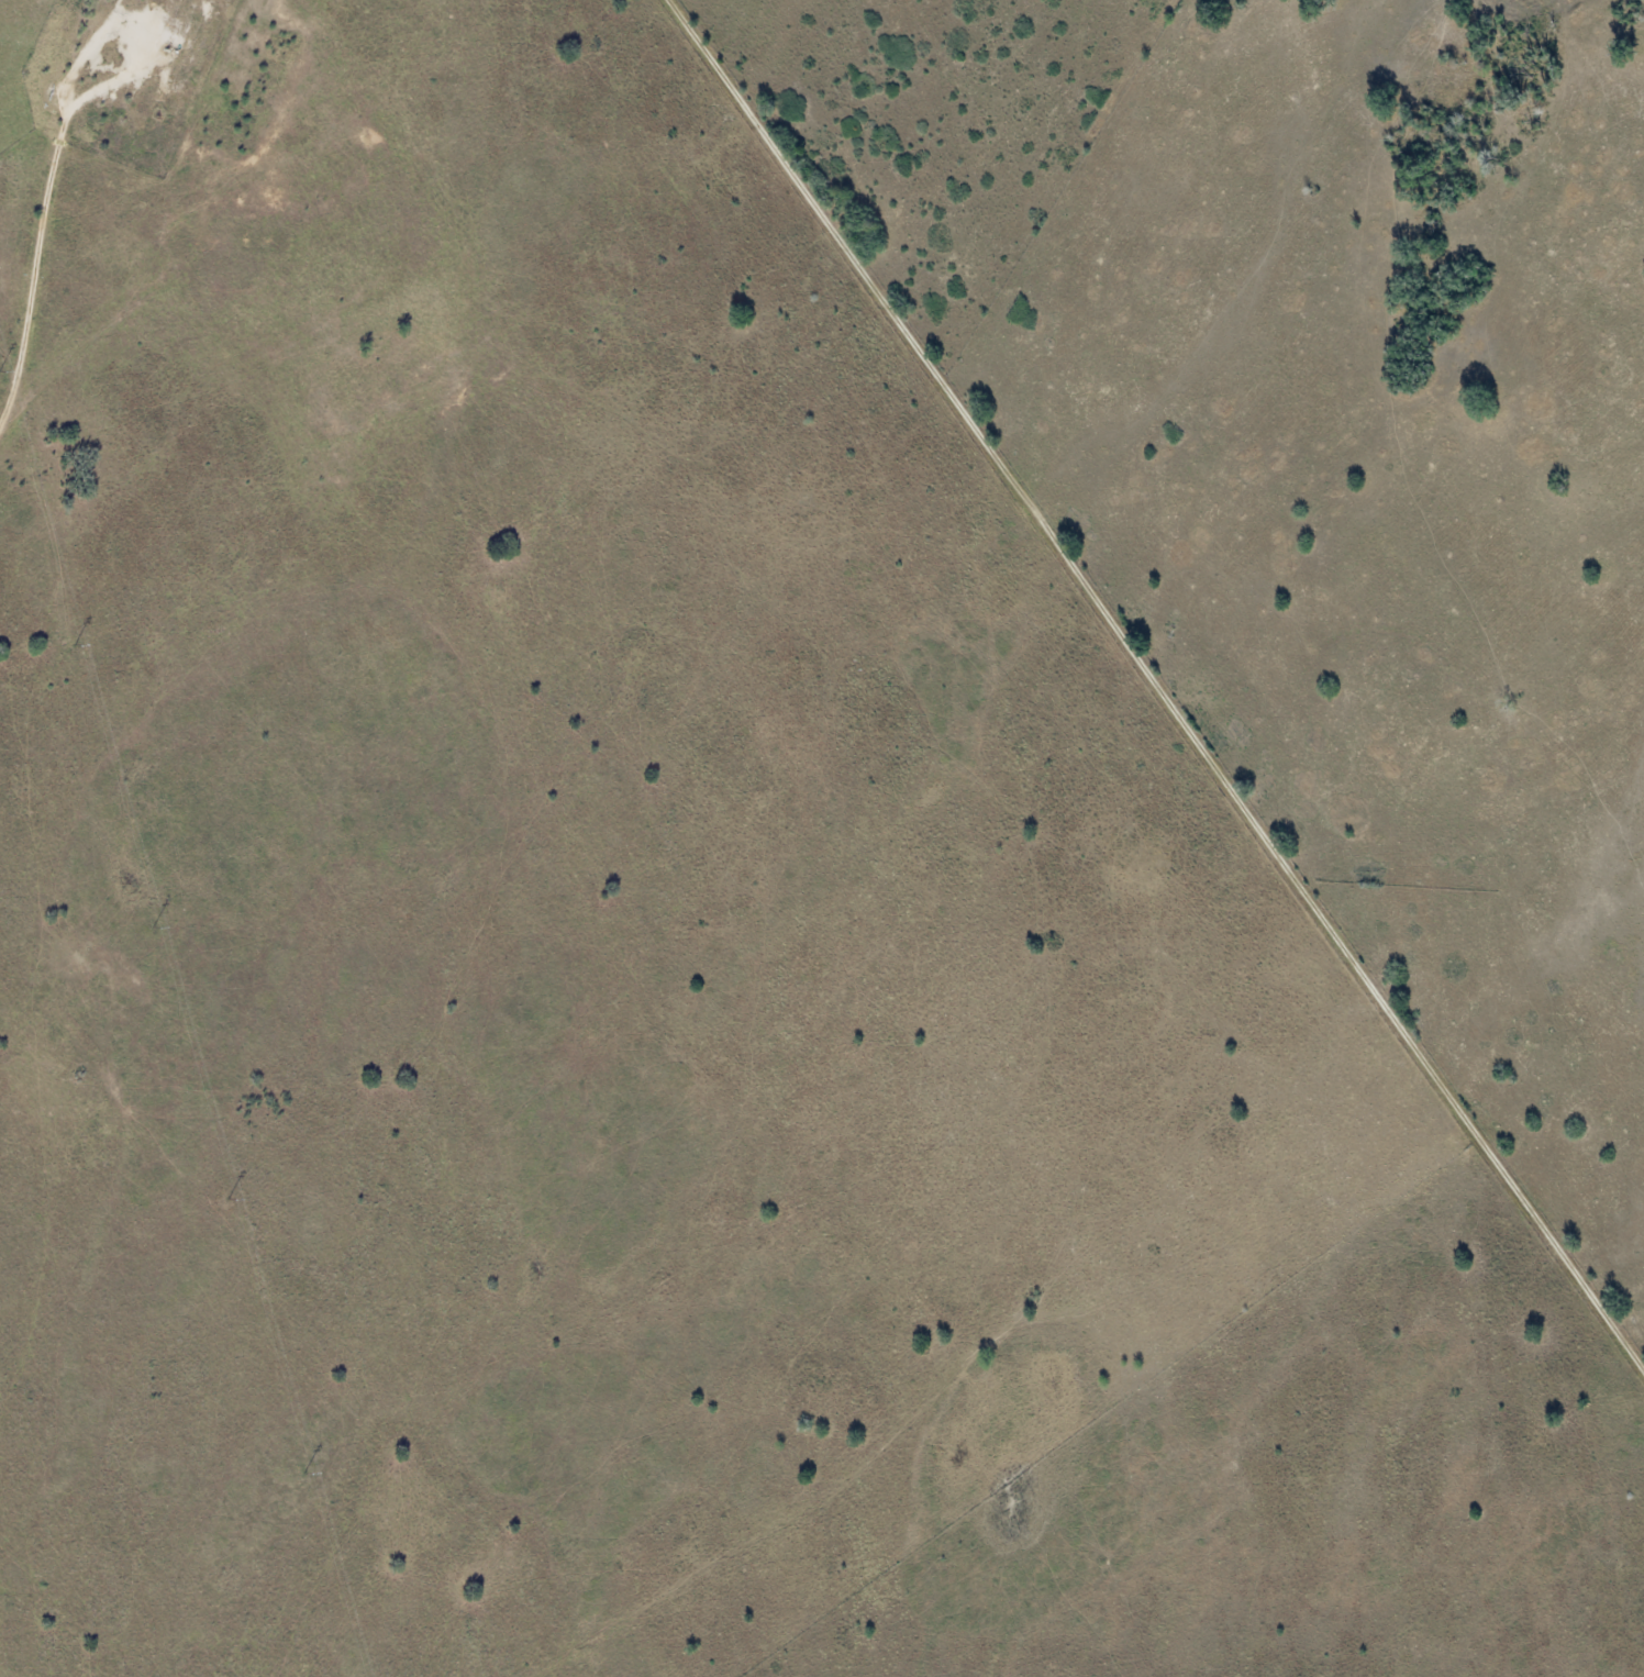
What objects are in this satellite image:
road: (1158, 679)

